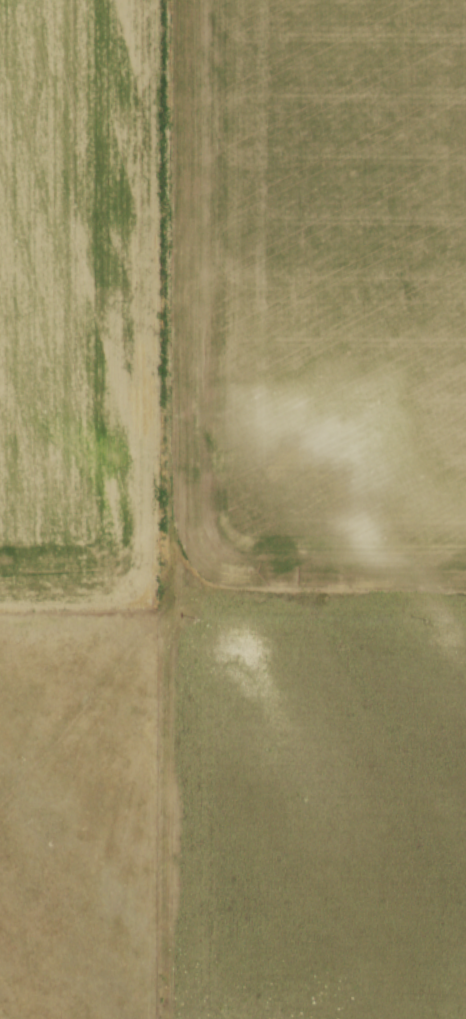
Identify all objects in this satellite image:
crop: (232, 298)

